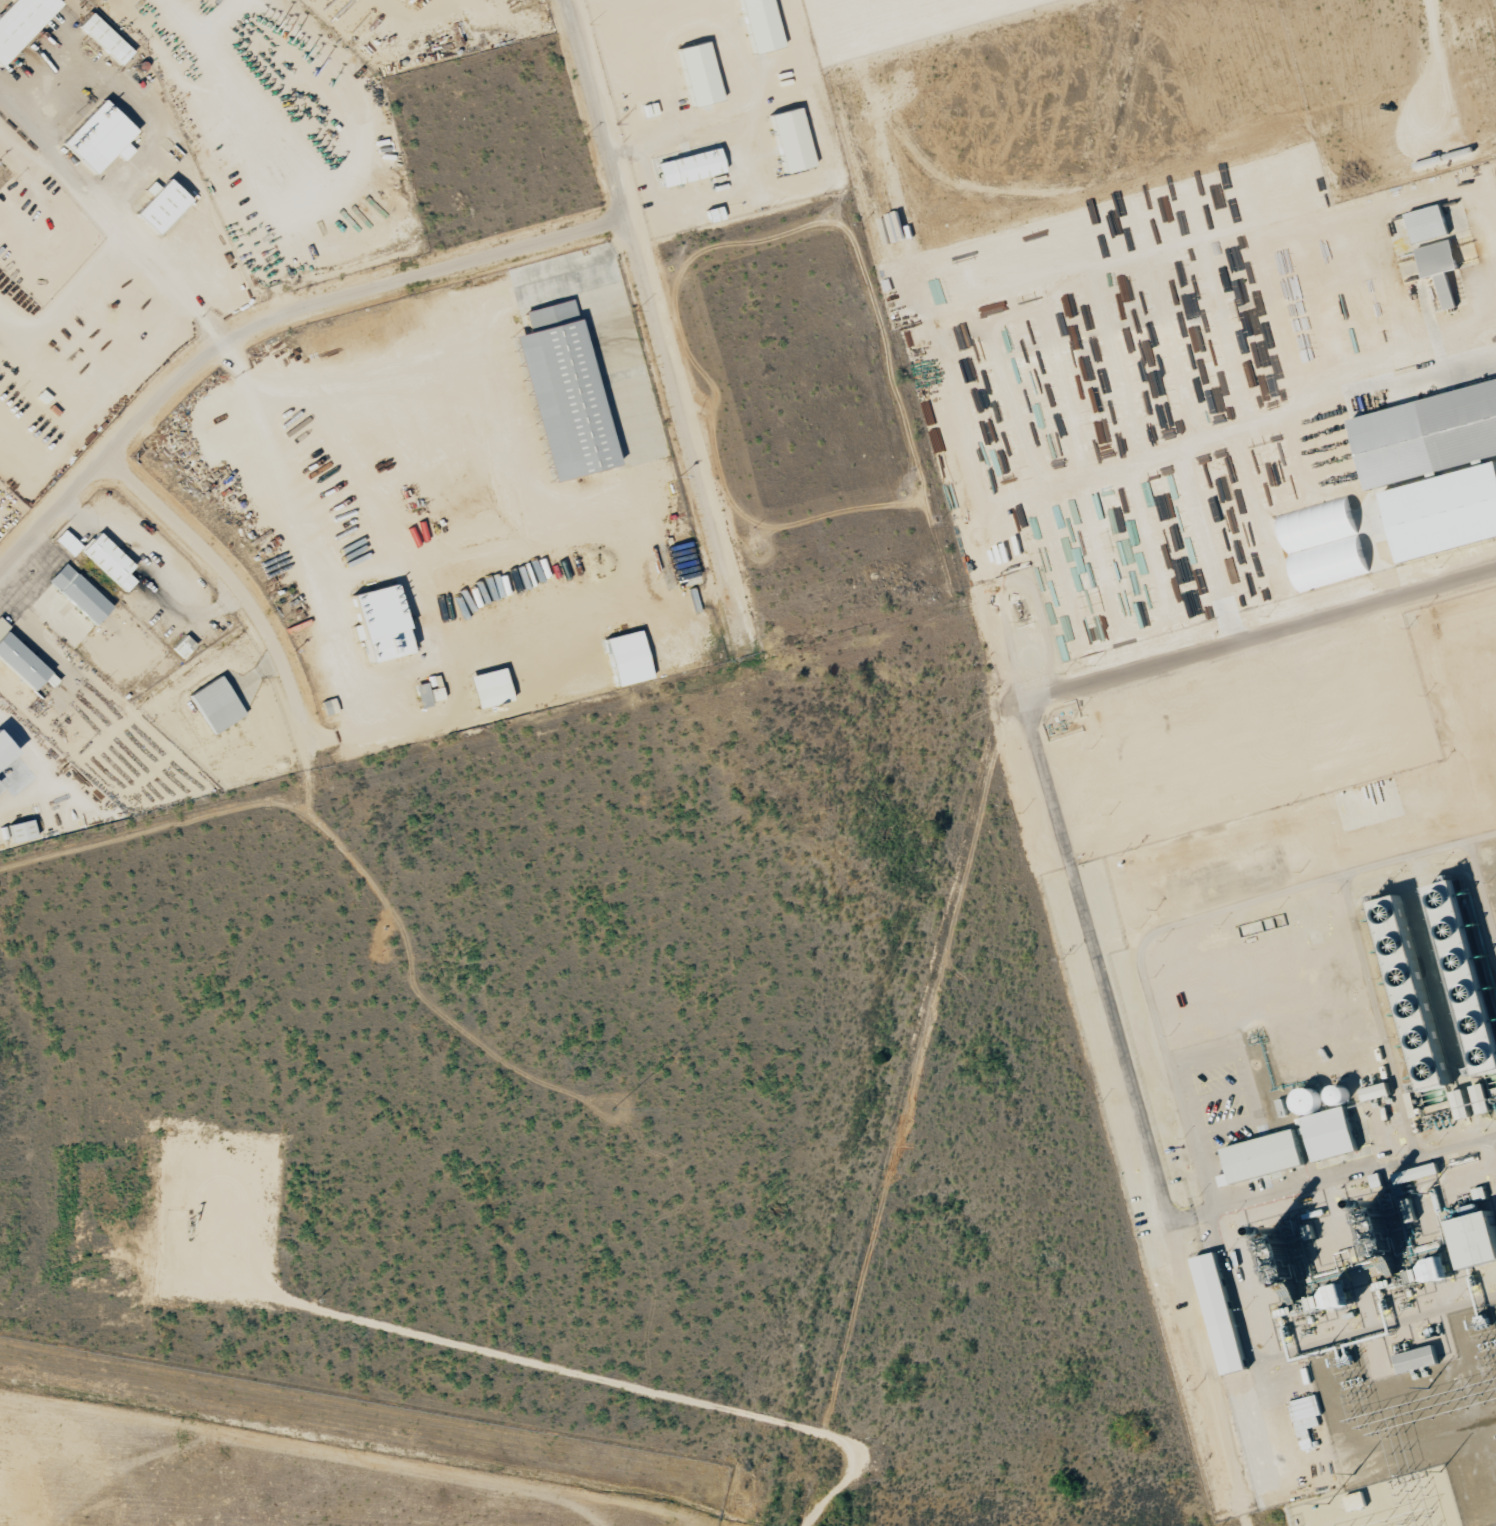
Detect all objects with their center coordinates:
building: (20, 21)
building: (760, 24)
building: (104, 38)
building: (698, 73)
building: (99, 137)
building: (790, 140)
building: (689, 167)
building: (161, 204)
road: (113, 222)
building: (1428, 223)
building: (1440, 268)
road: (270, 321)
road: (655, 325)
building: (563, 392)
building: (1434, 469)
building: (67, 543)
building: (1323, 543)
building: (108, 561)
road: (241, 589)
building: (78, 594)
building: (380, 623)
building: (182, 646)
building: (627, 658)
building: (19, 660)
building: (489, 688)
building: (426, 695)
building: (215, 705)
building: (328, 707)
building: (4, 751)
road: (1058, 826)
building: (20, 831)
building: (1466, 973)
building: (1412, 993)
building: (1377, 1091)
building: (1482, 1098)
building: (1309, 1100)
power plant: (1314, 1104)
building: (1330, 1135)
building: (1264, 1157)
building: (1416, 1173)
chimney: (1371, 1207)
chimney: (1275, 1233)
building: (1478, 1239)
building: (1437, 1271)
building: (1213, 1290)
building: (1342, 1296)
building: (1417, 1359)
building: (1305, 1418)
power plant: (300, 1458)
building: (1356, 1501)
power substation: (1382, 1503)

